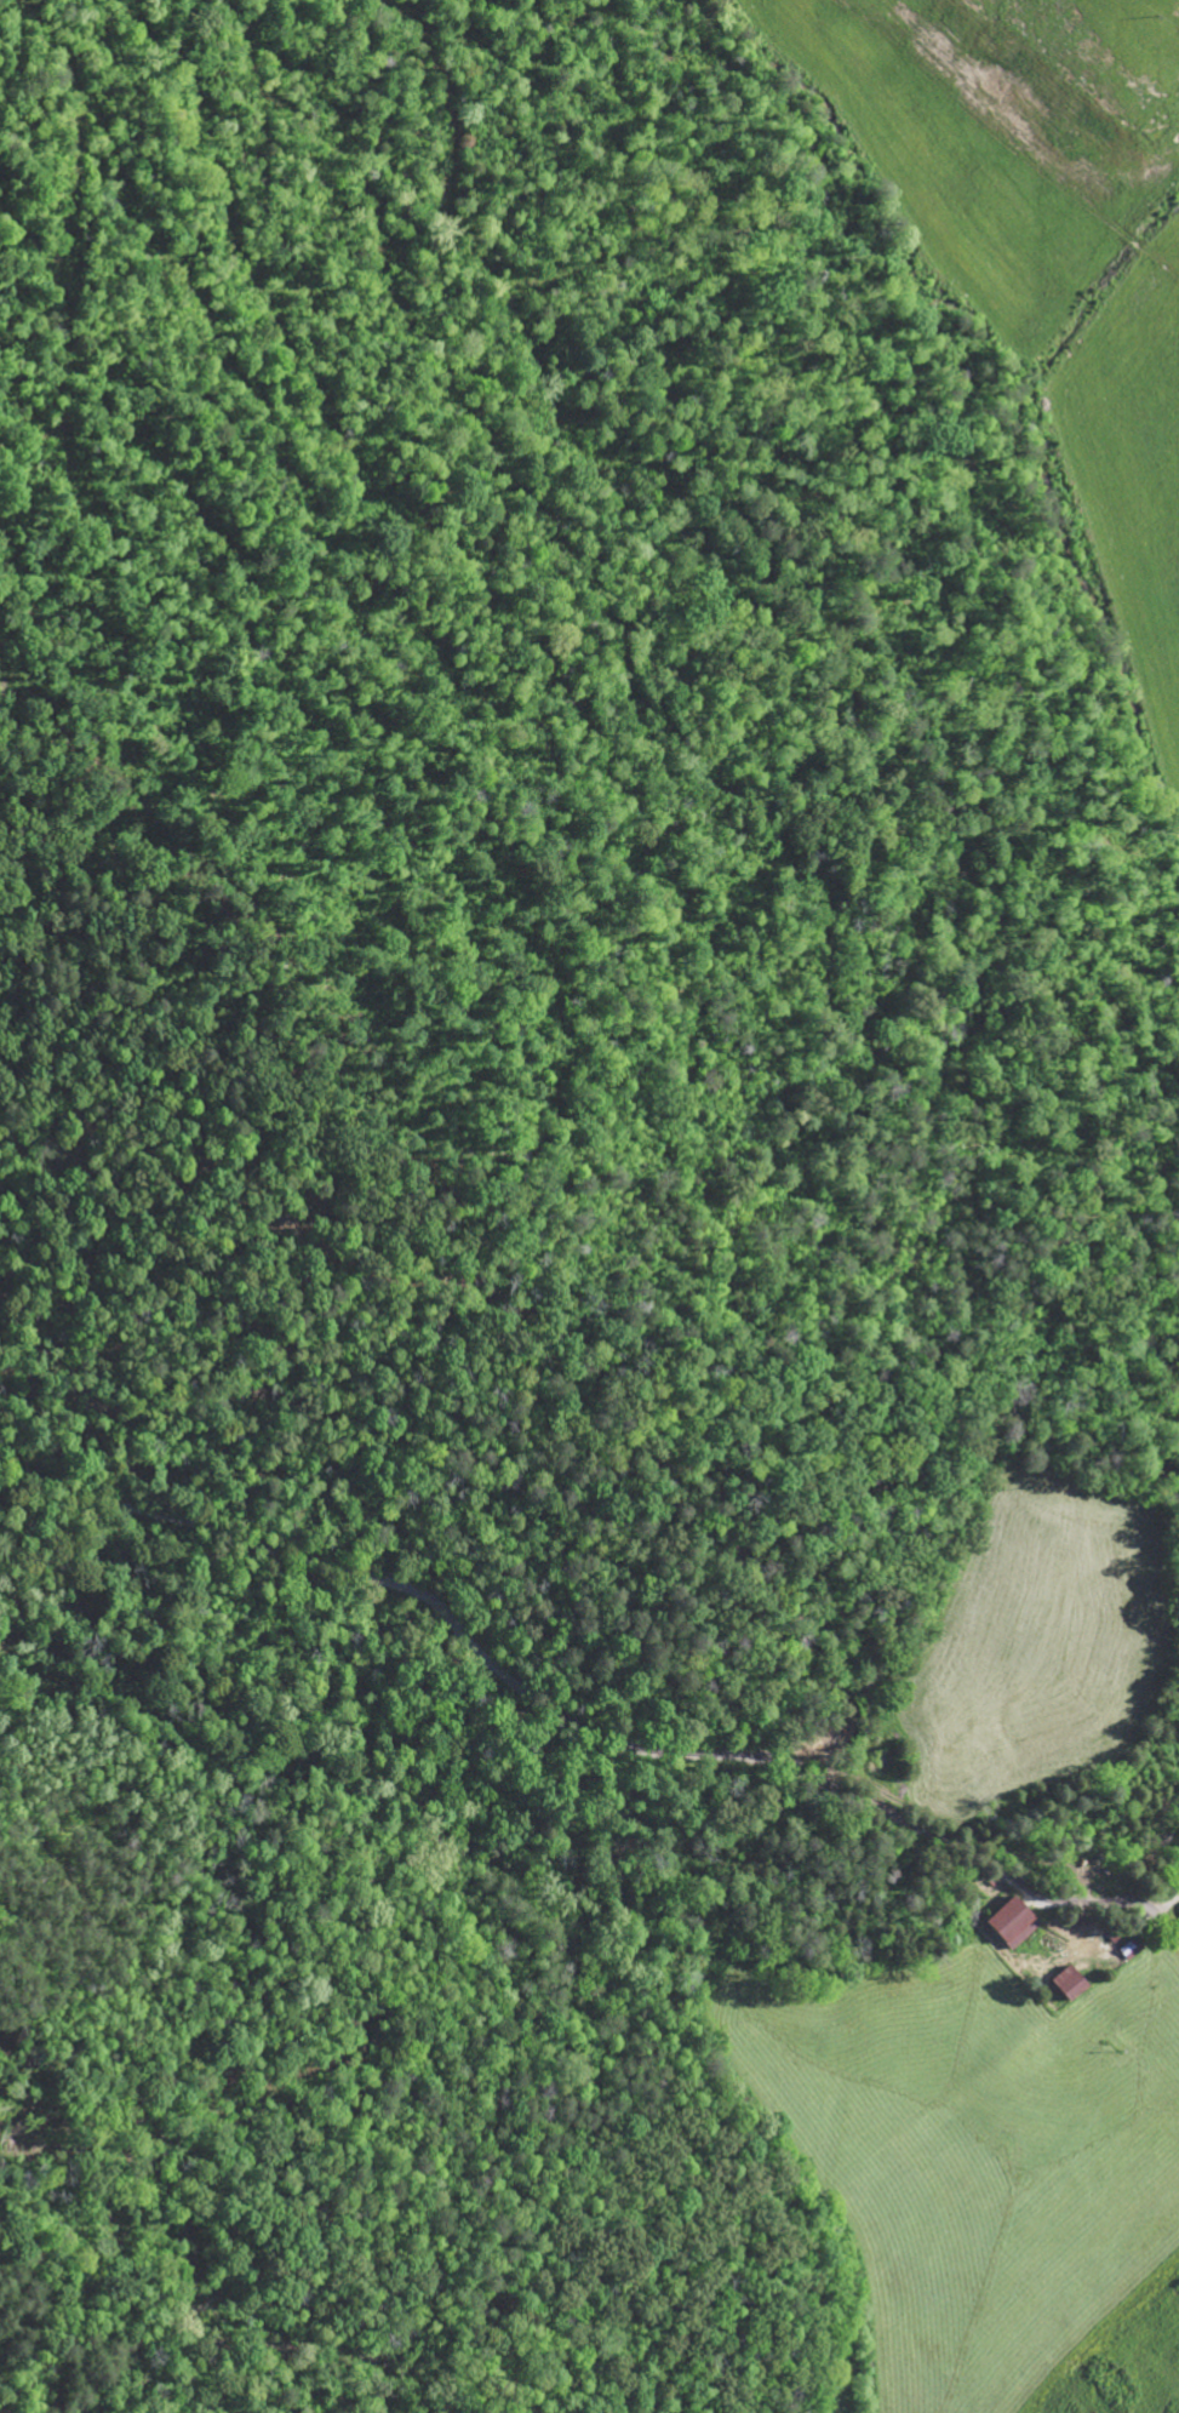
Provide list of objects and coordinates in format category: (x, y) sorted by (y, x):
road: (577, 1722)
building: (1017, 1923)
building: (1074, 1984)

